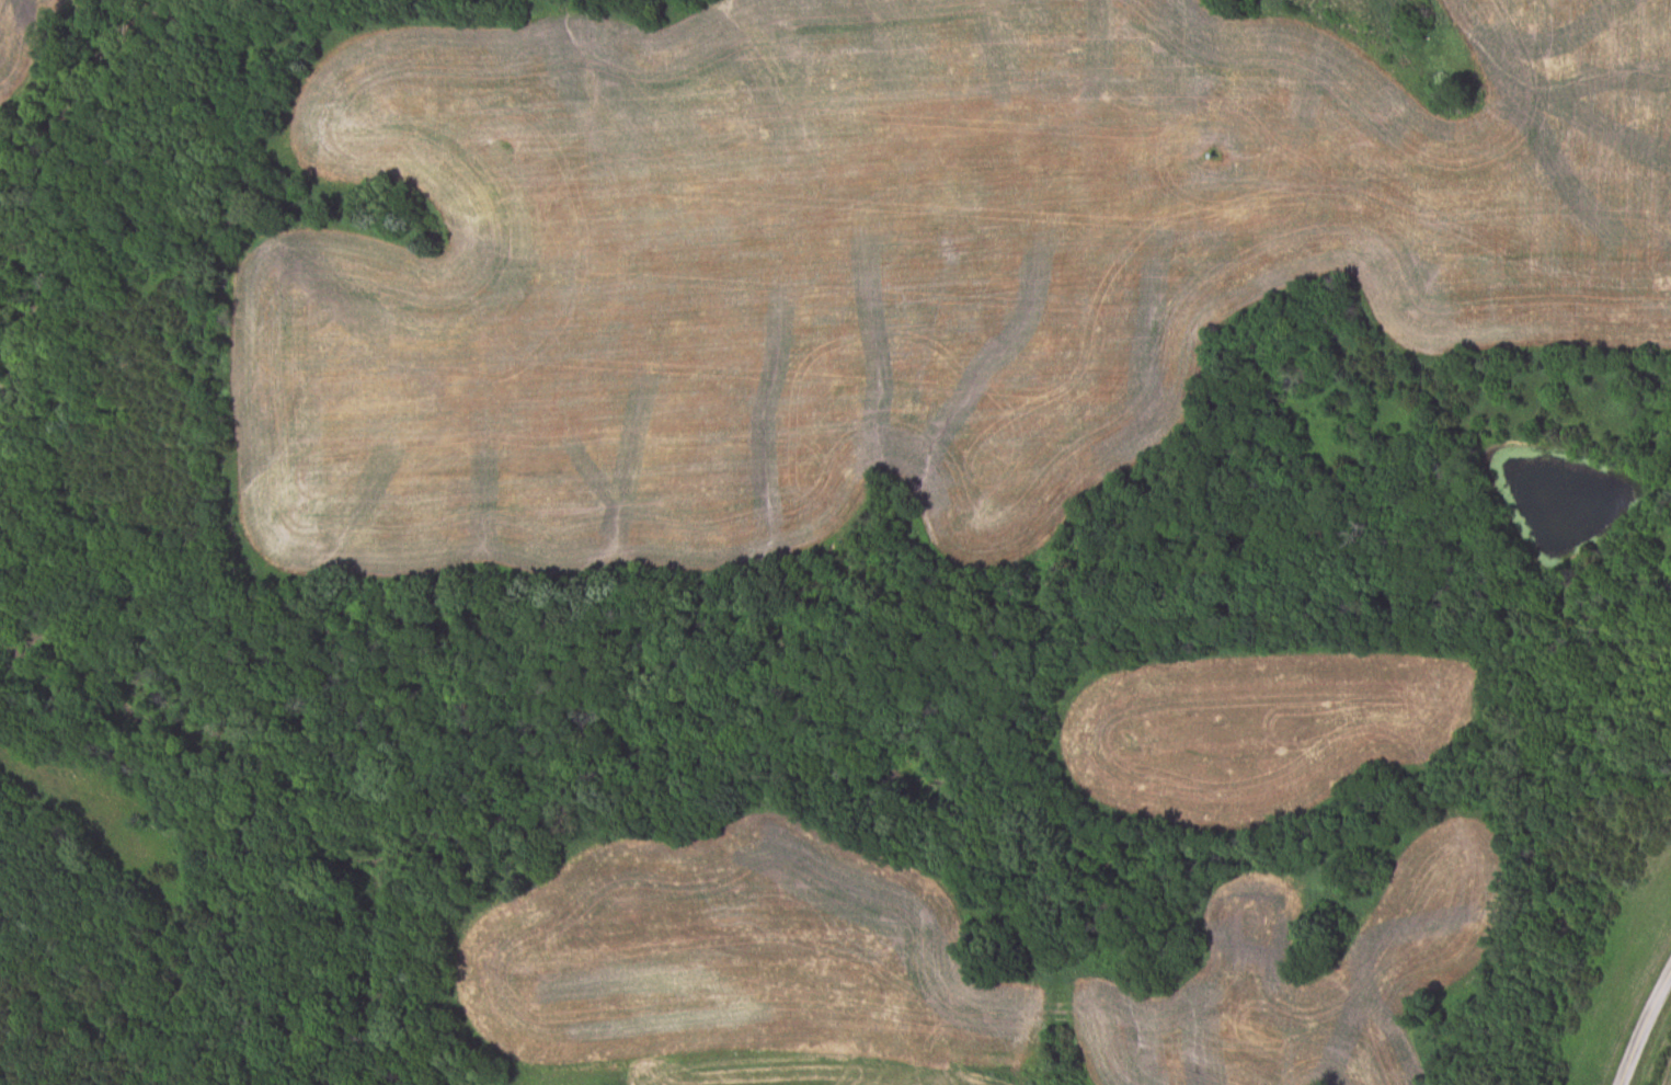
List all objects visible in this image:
road: (1404, 747)
road: (1643, 1027)

